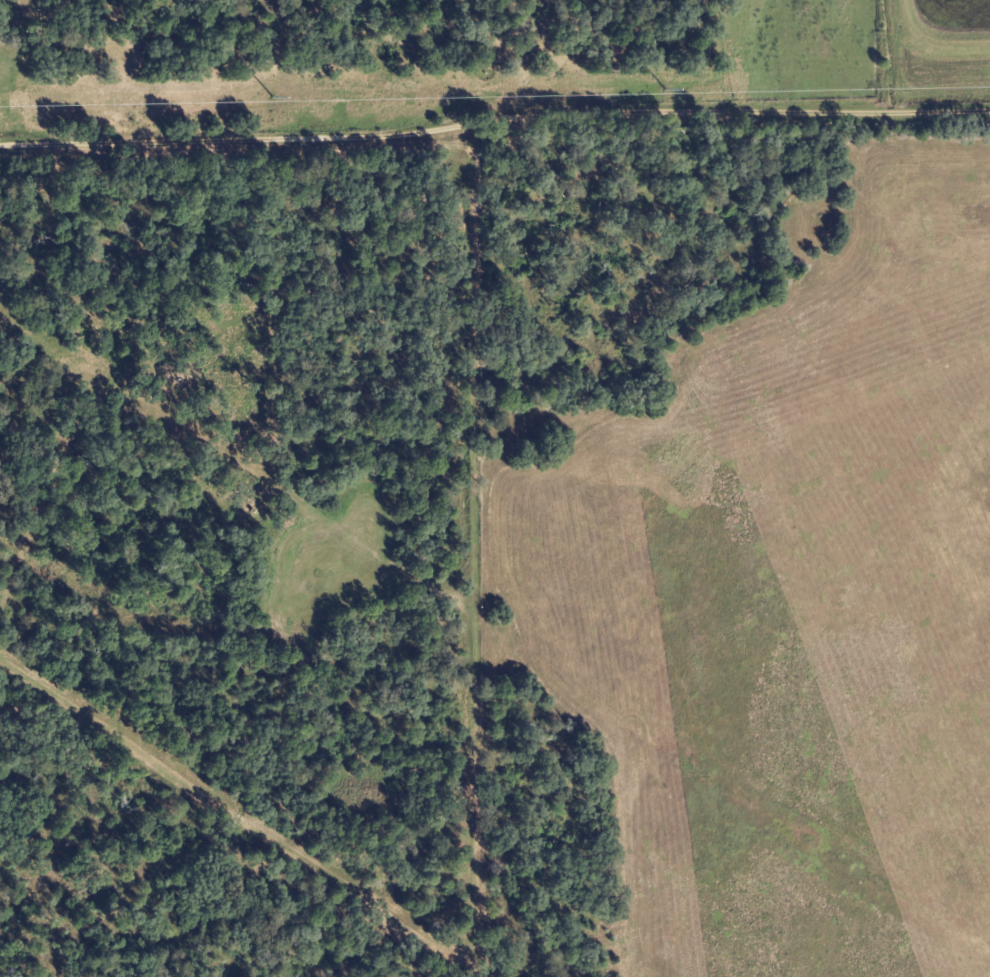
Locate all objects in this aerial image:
road: (494, 120)

